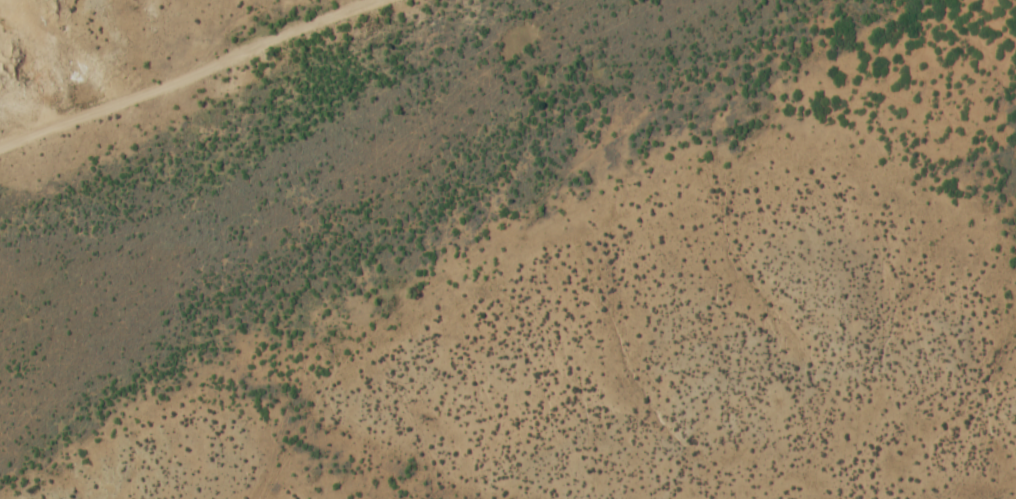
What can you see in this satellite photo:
road: (165, 87)

